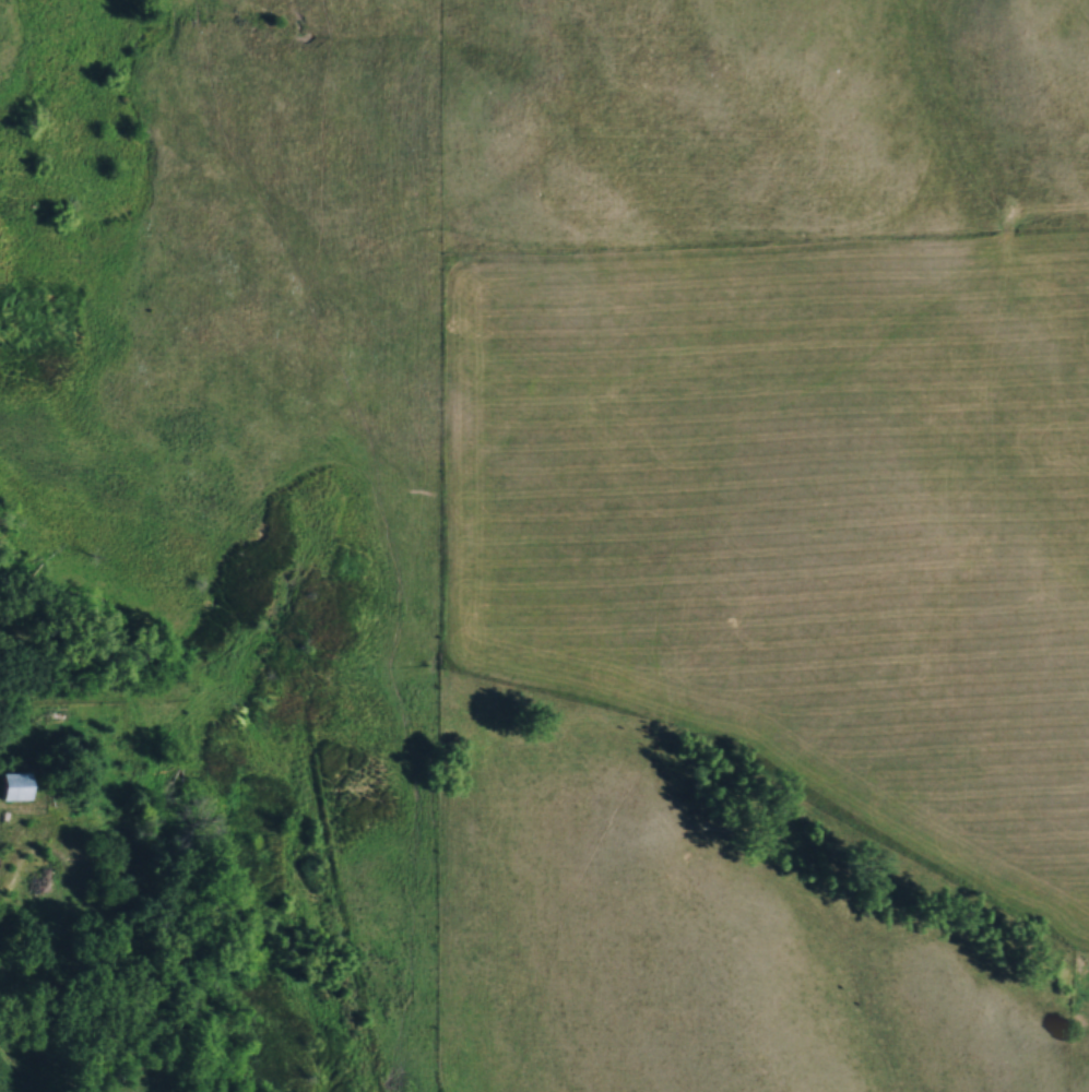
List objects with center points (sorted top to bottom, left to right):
building: (14, 785)

